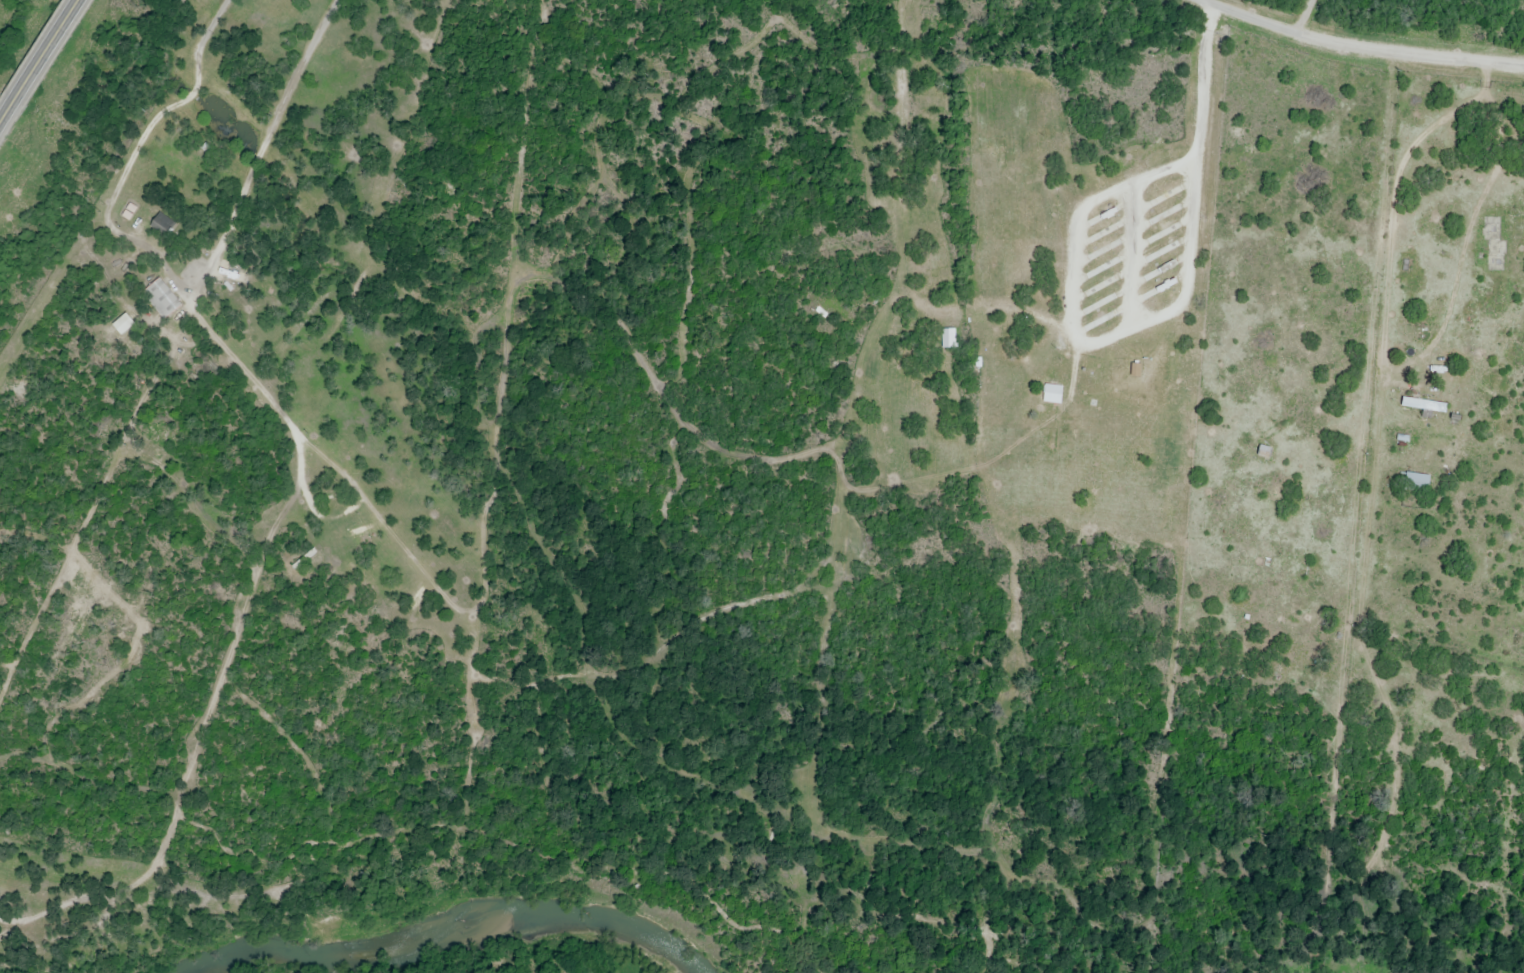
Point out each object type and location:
road: (1355, 47)
road: (40, 61)
building: (163, 222)
building: (1495, 254)
road: (173, 278)
building: (162, 298)
building: (948, 339)
building: (1053, 394)
building: (1423, 405)
road: (308, 444)
building: (1267, 454)
building: (1414, 483)
road: (94, 505)
park: (243, 517)
road: (203, 731)
river: (453, 924)

